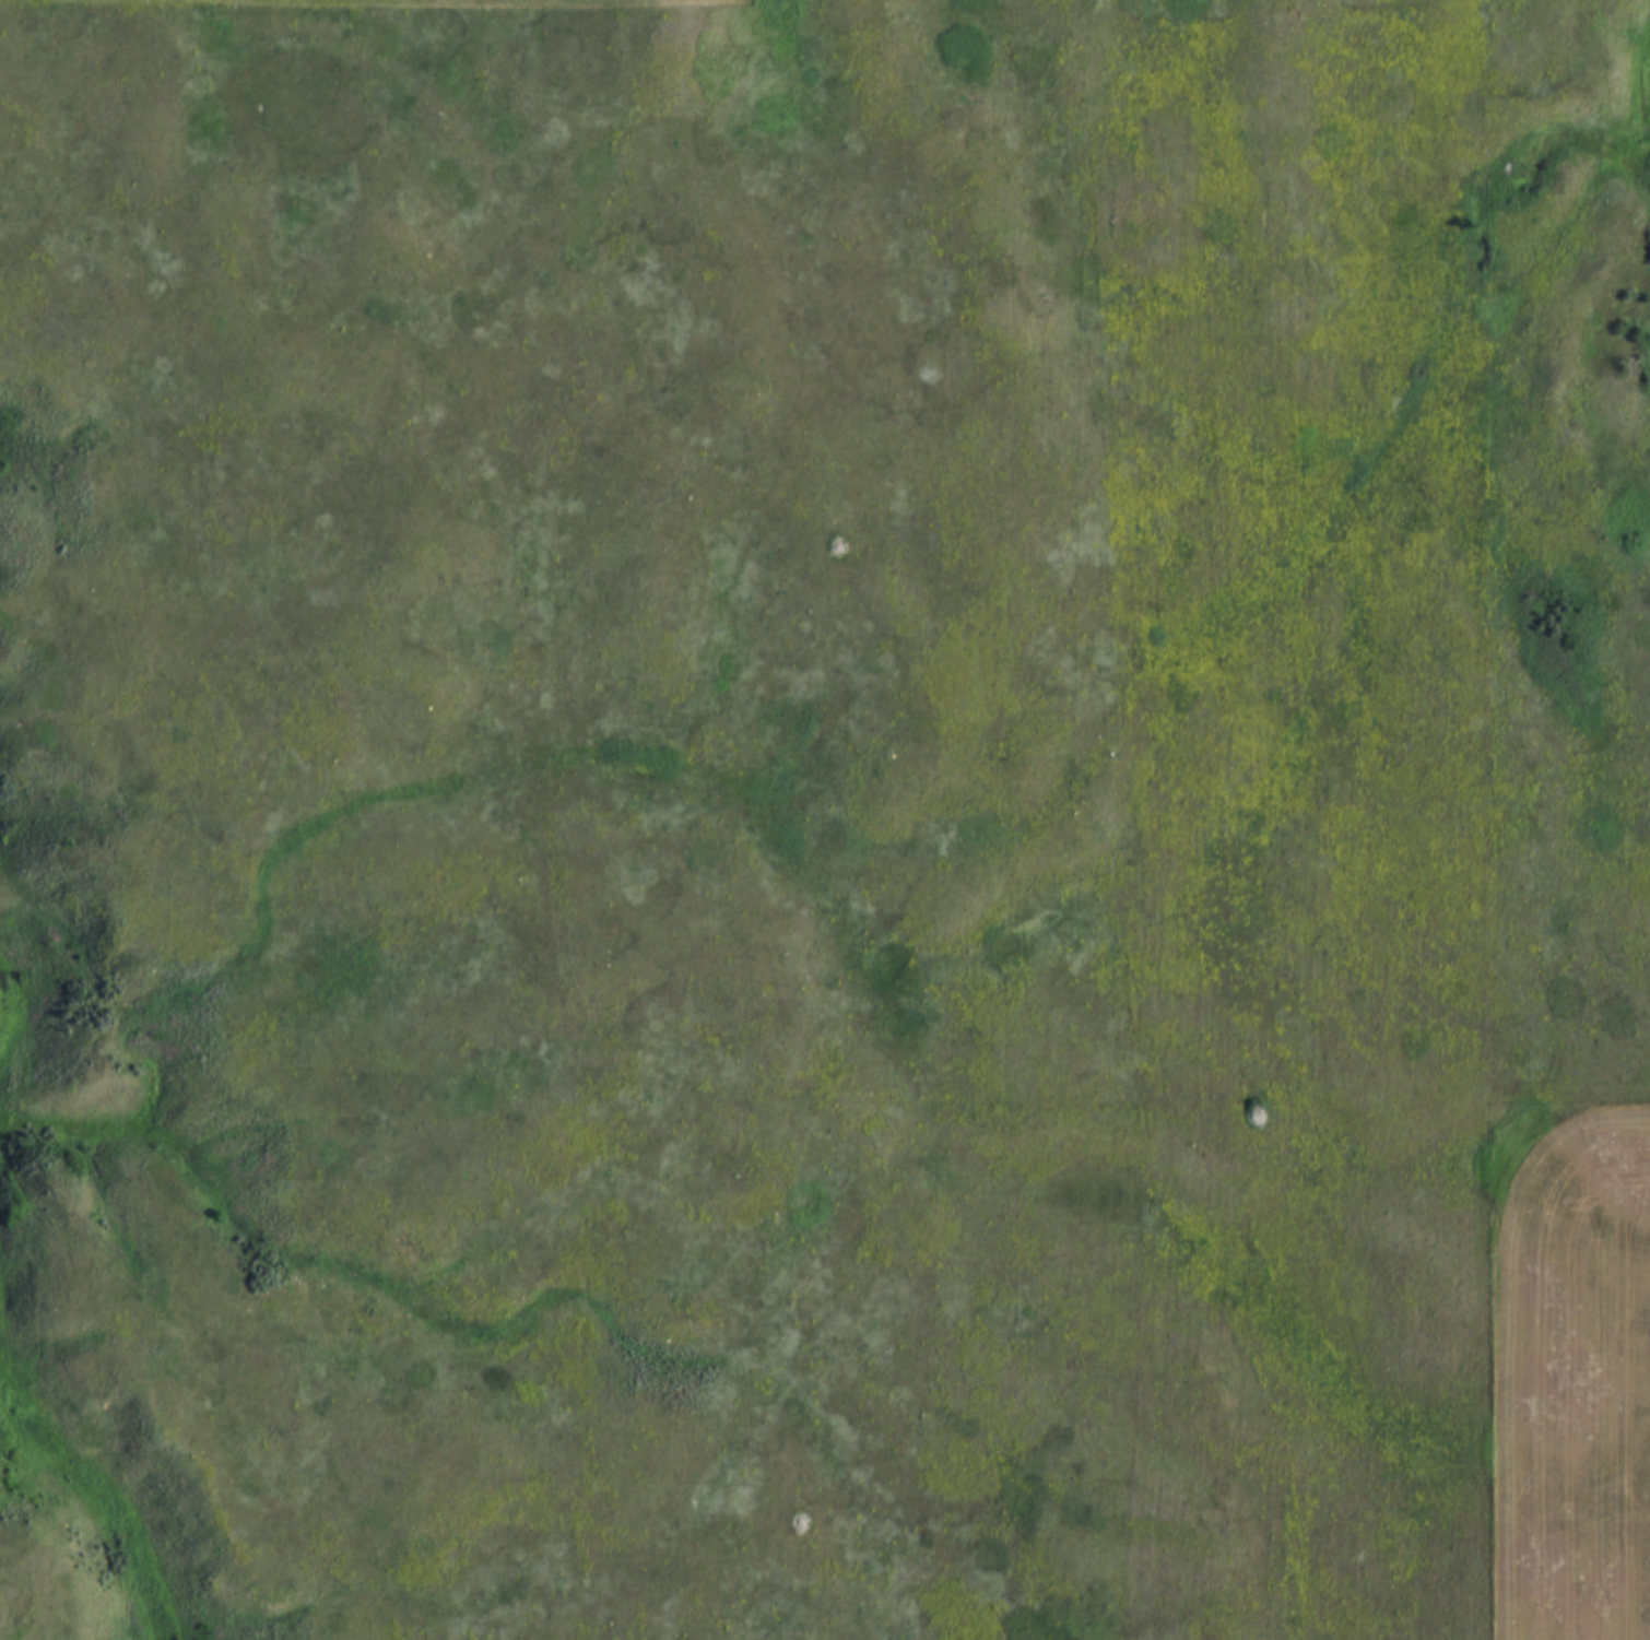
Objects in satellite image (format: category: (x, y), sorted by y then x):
building: (1624, 1392)

